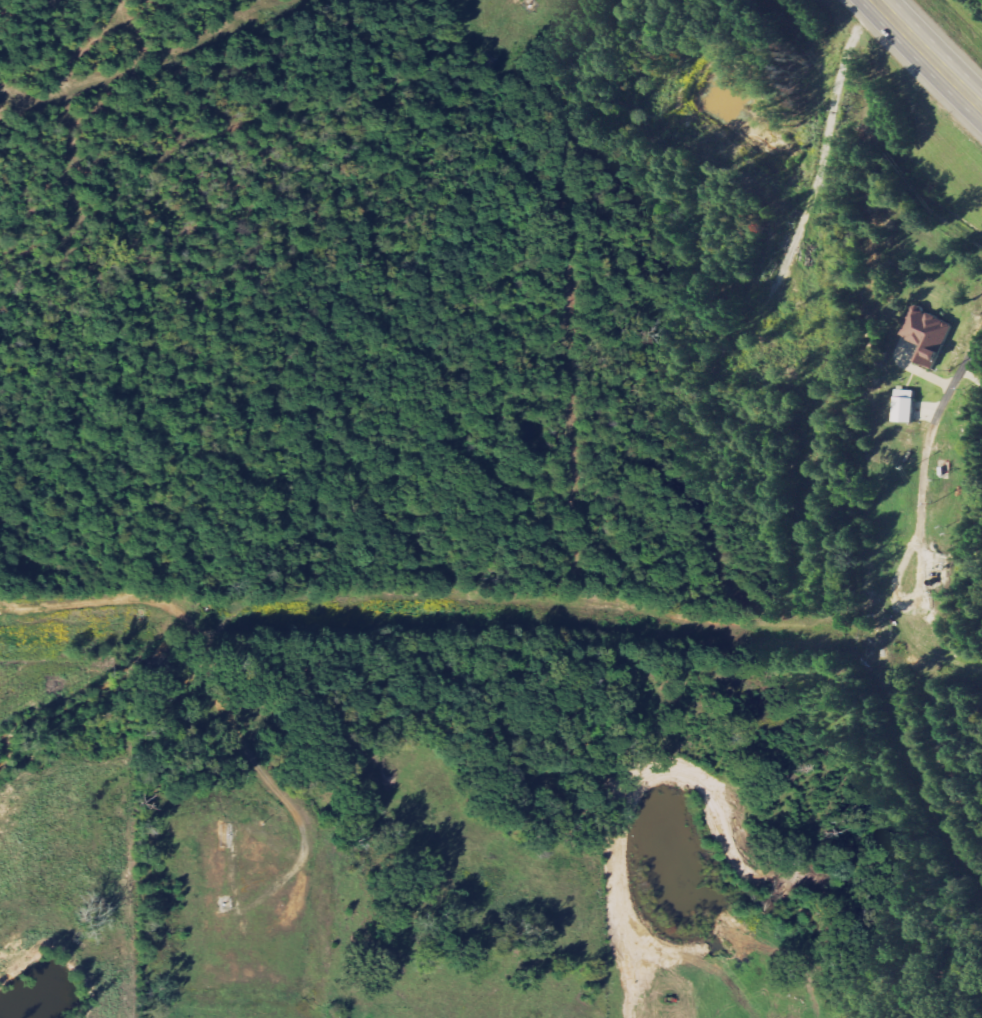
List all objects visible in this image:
road: (928, 53)
building: (932, 335)
road: (966, 358)
building: (909, 406)

